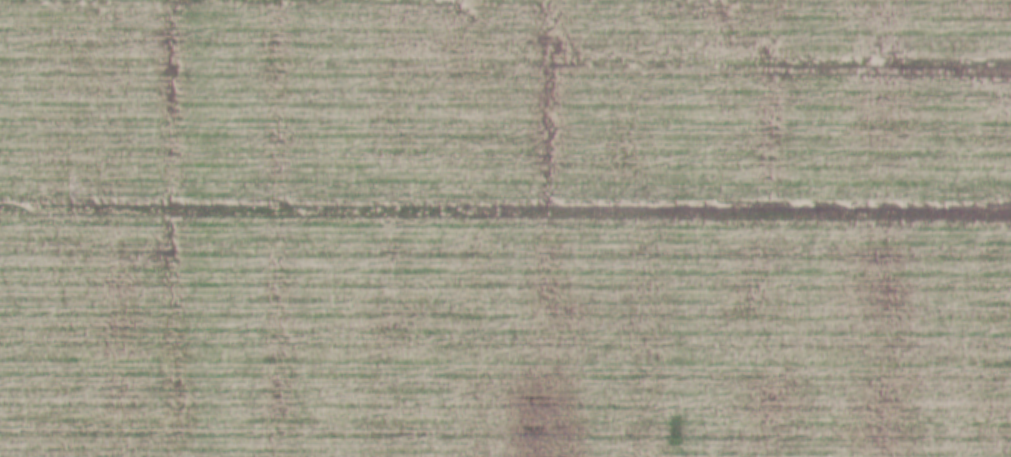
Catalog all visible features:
crop: (505, 228)

